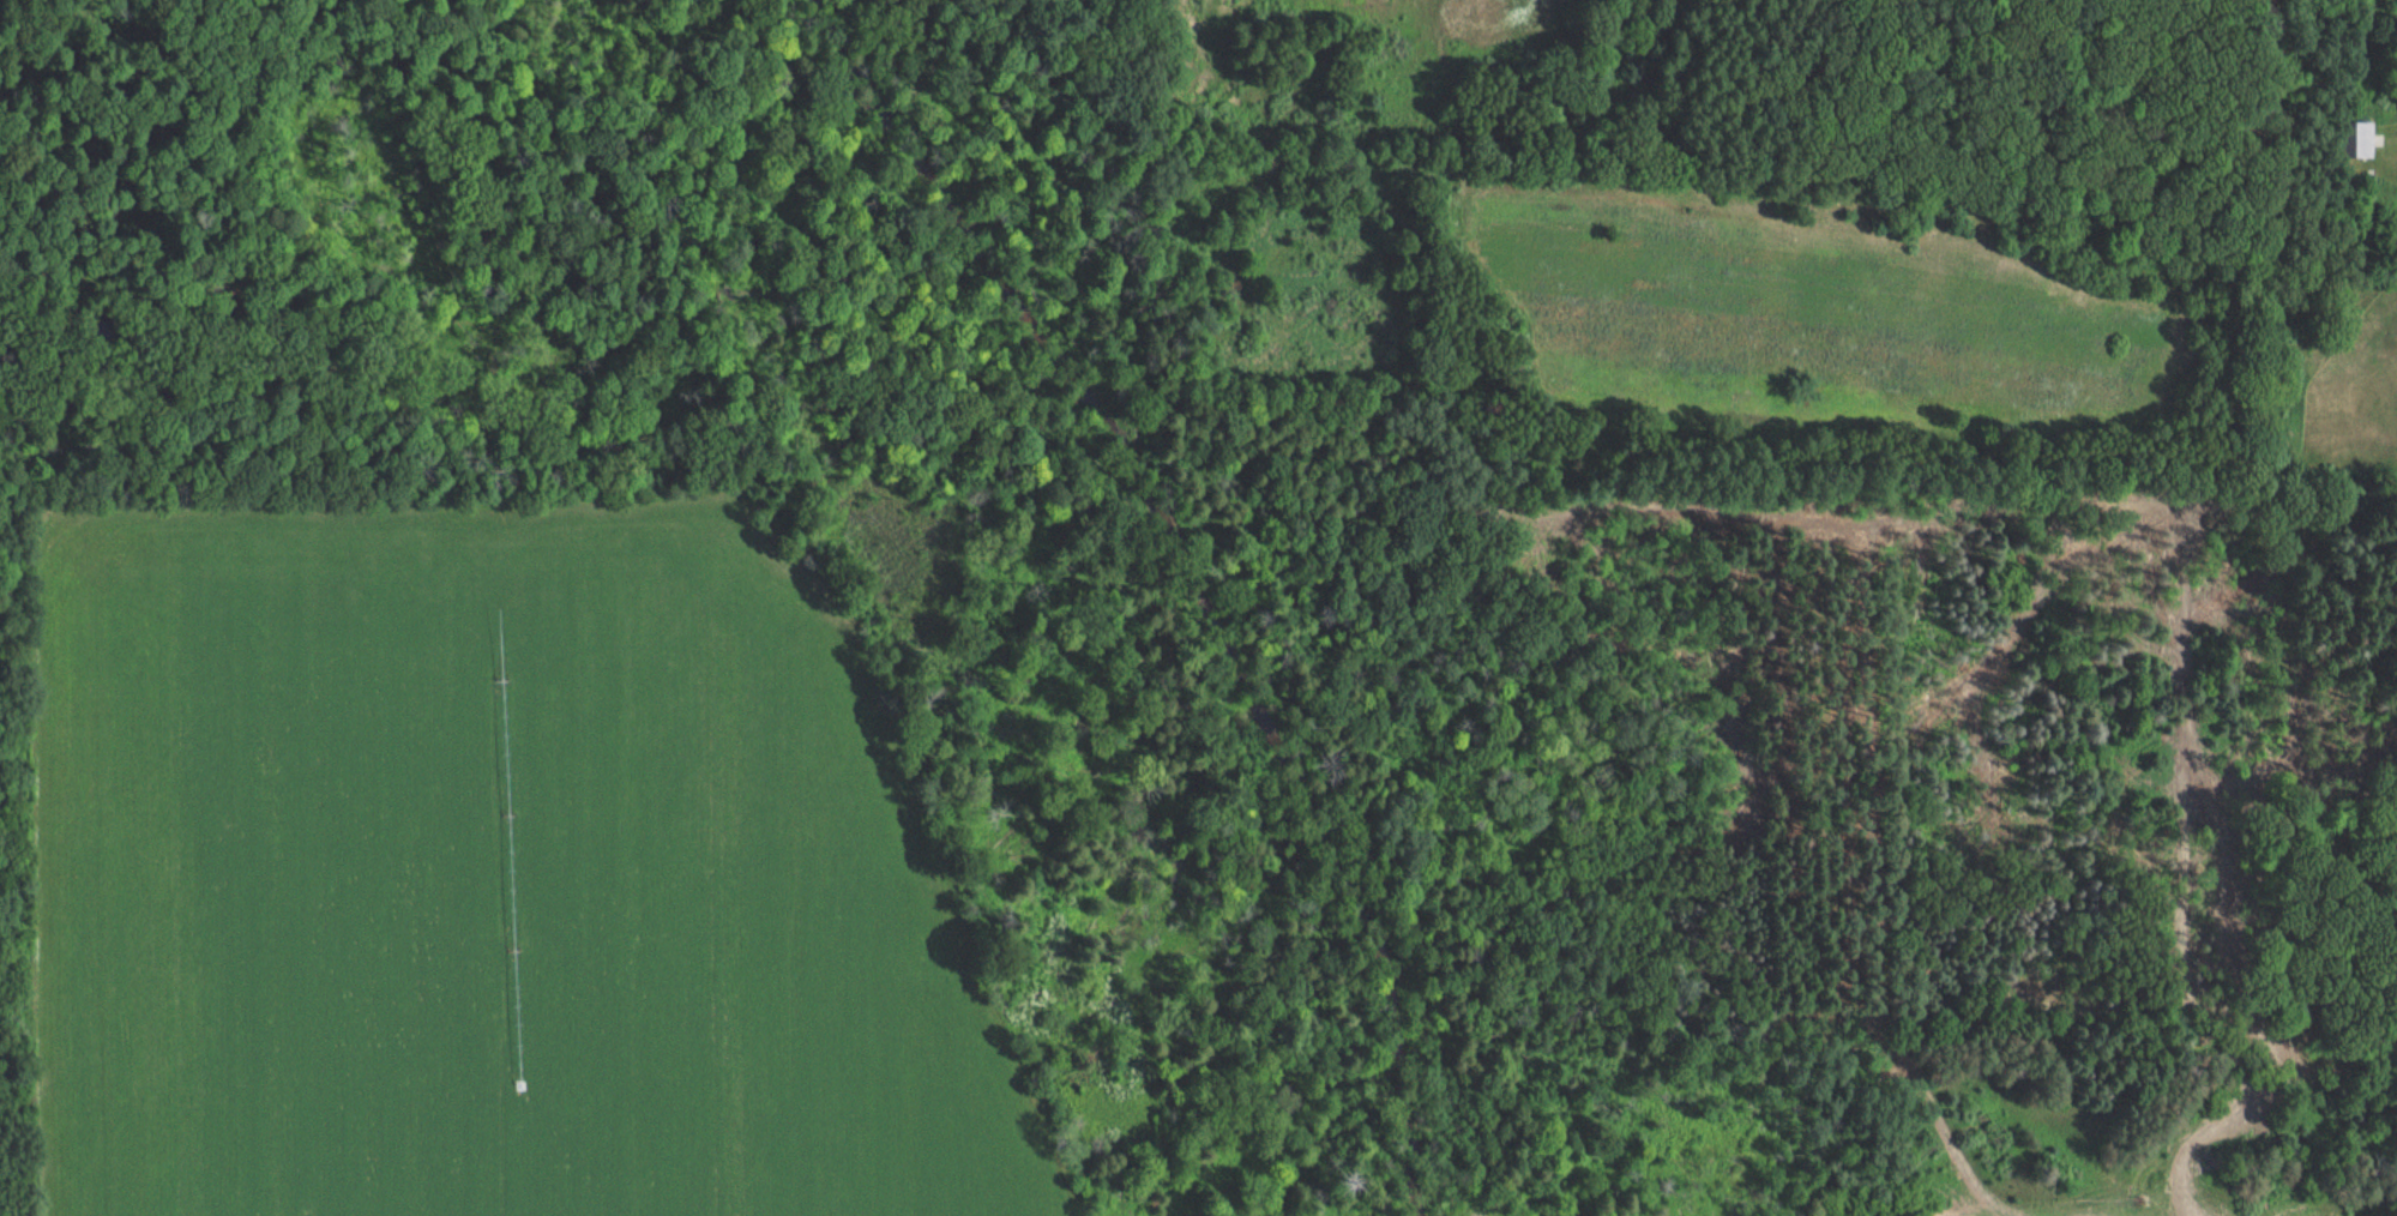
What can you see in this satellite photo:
building: (2365, 138)

